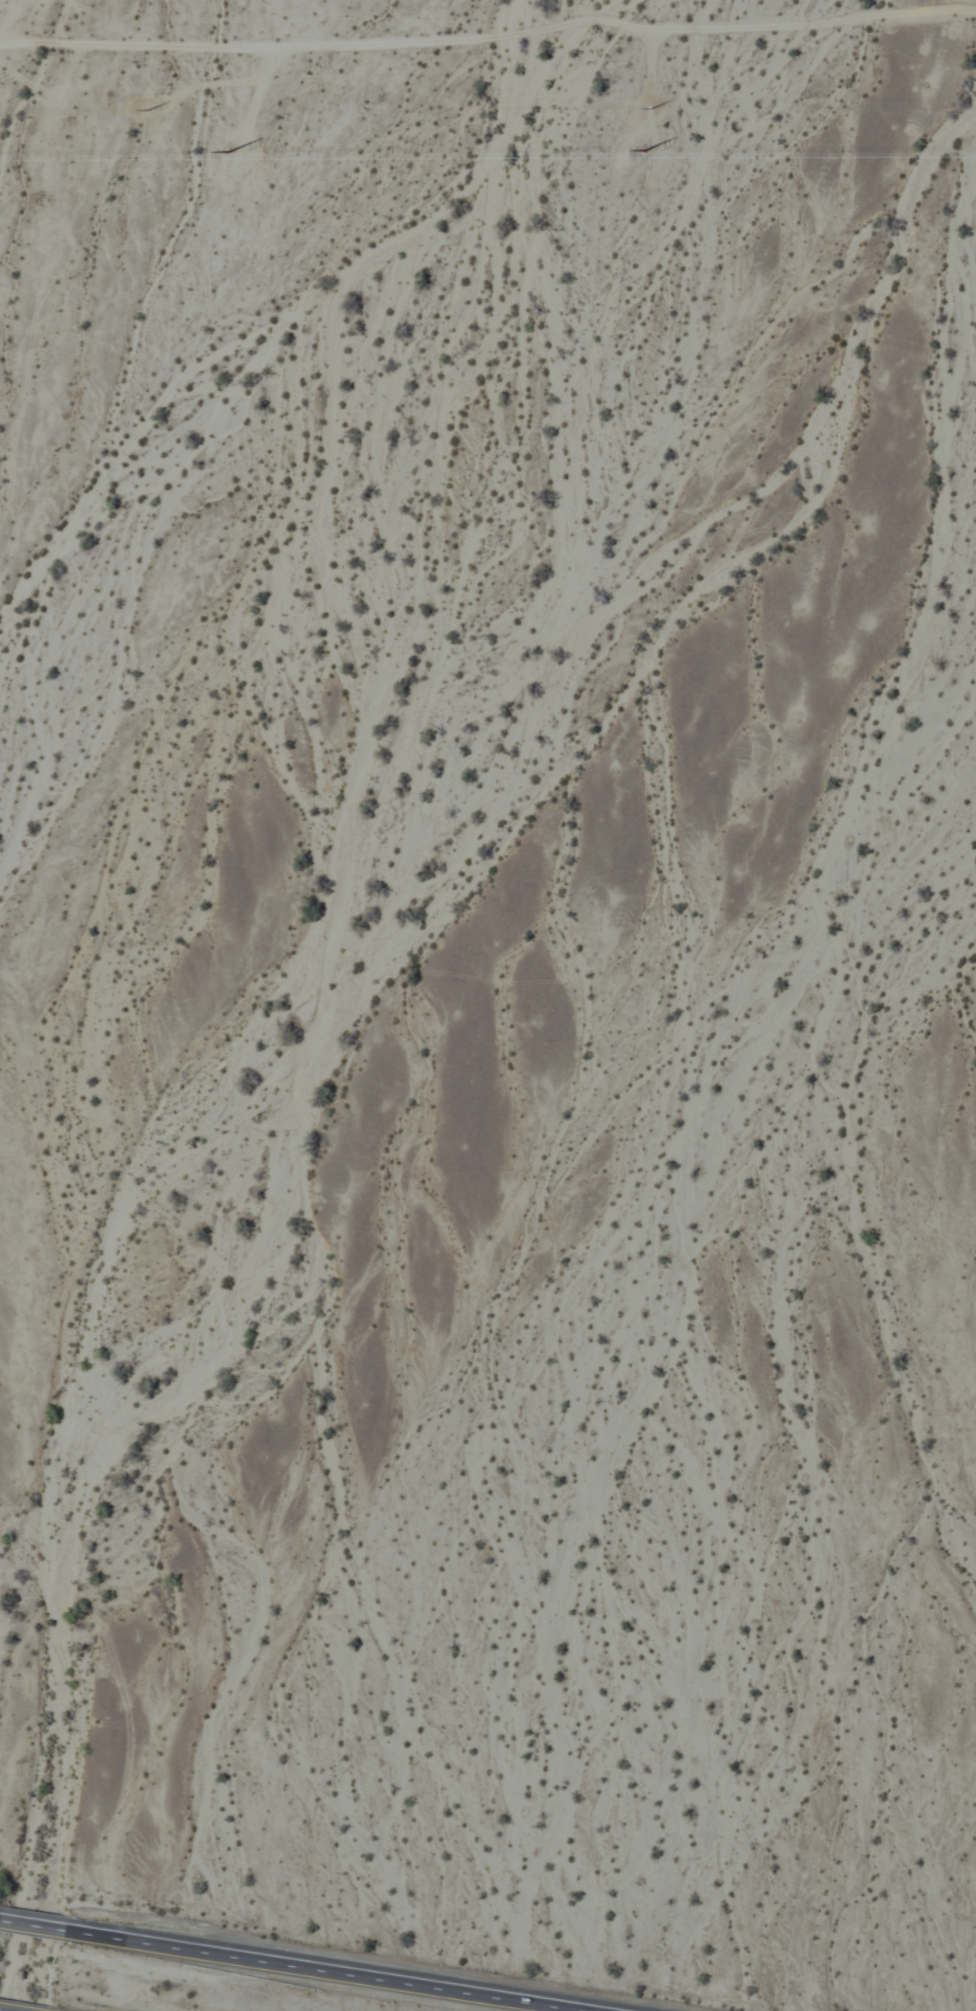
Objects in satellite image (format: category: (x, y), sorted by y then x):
road: (304, 1963)

